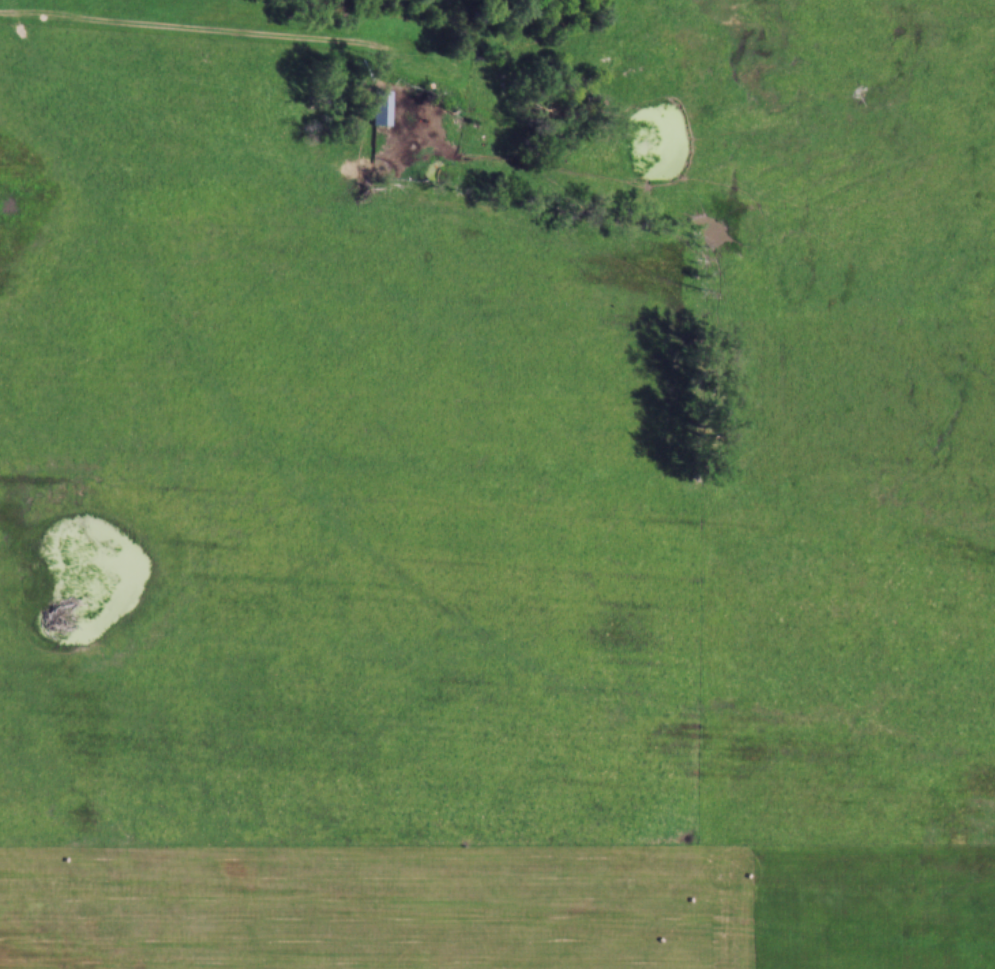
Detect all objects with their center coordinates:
road: (235, 39)
building: (381, 109)

